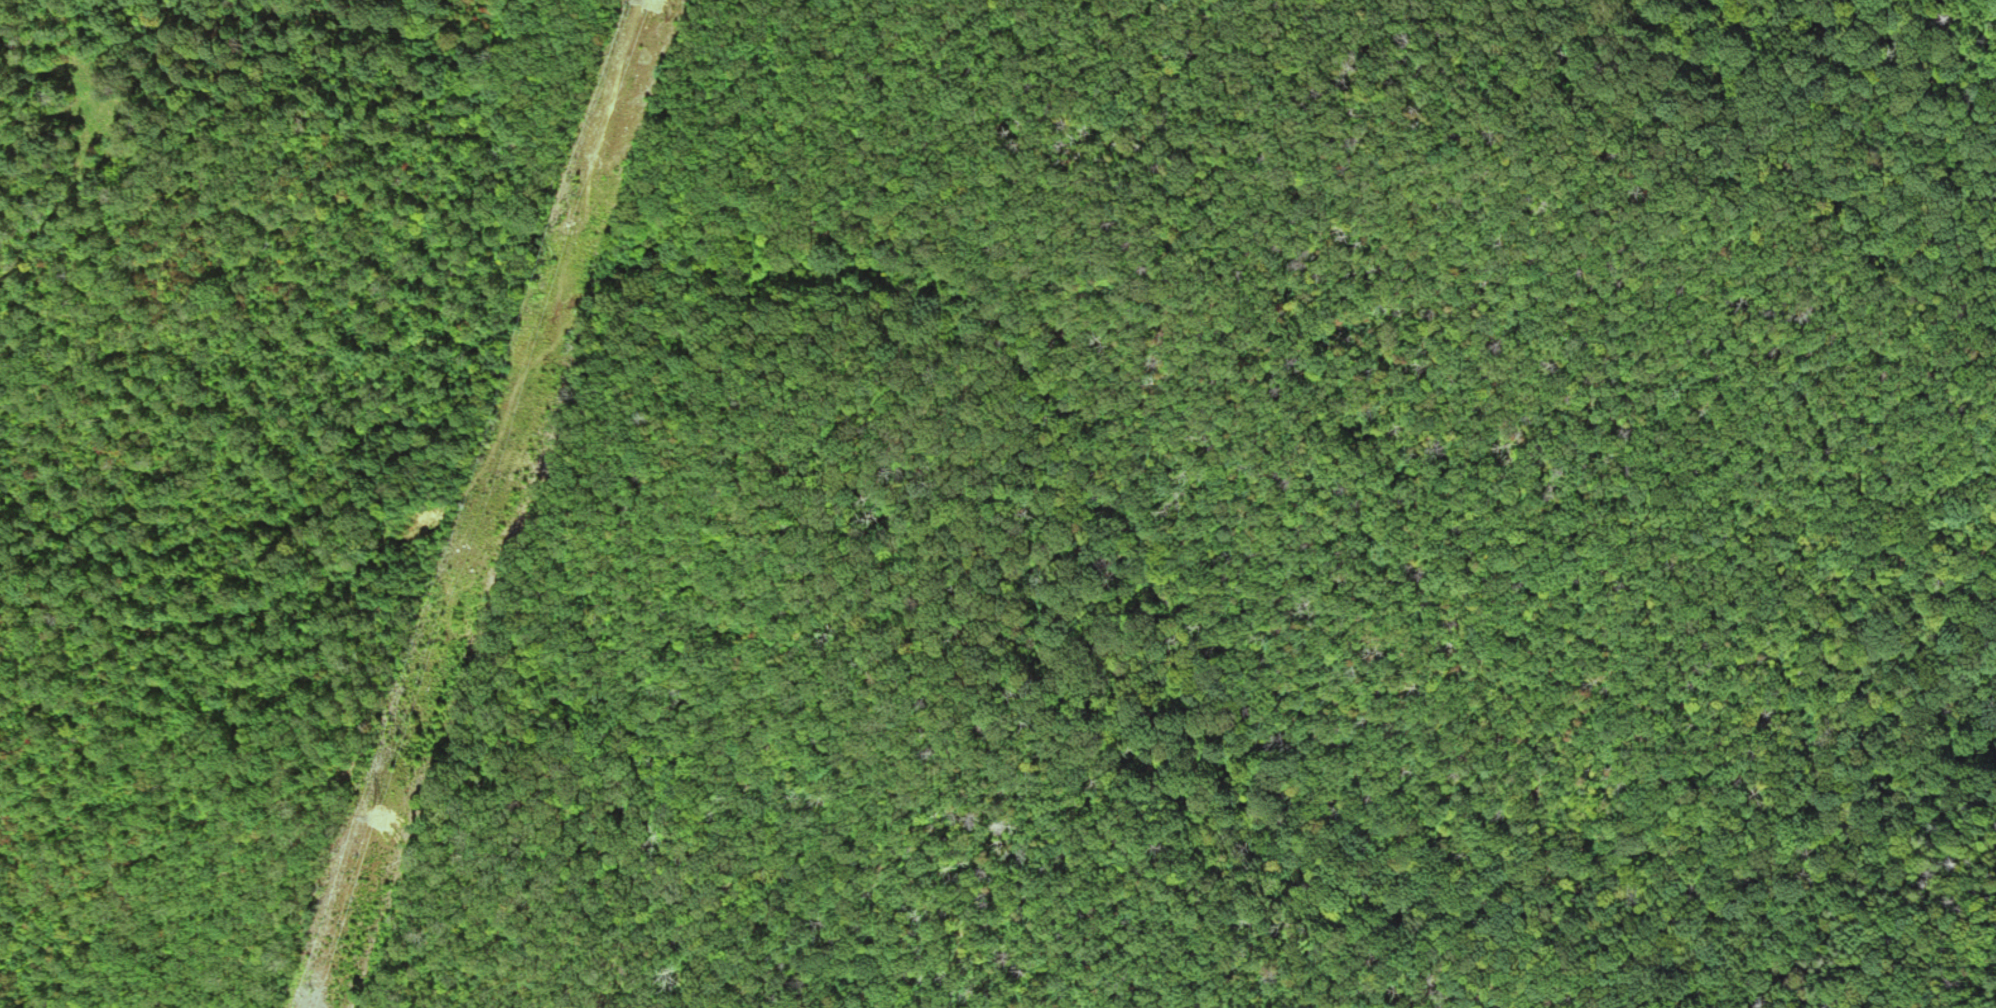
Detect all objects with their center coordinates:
power tower: (654, 1)
road: (99, 144)
road: (364, 438)

